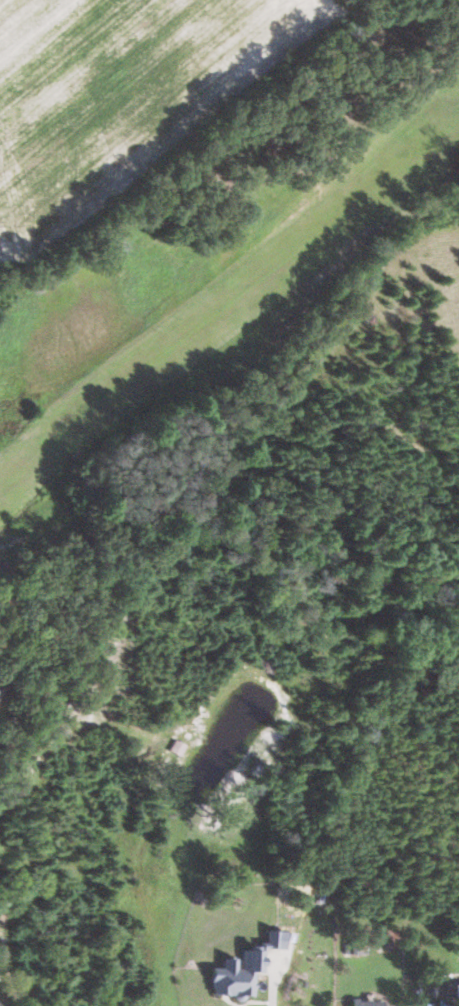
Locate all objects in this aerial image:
airport runway: (229, 301)
building: (0, 691)
road: (14, 762)
building: (246, 968)
road: (275, 980)
building: (452, 990)
building: (369, 1003)
road: (1, 1004)

